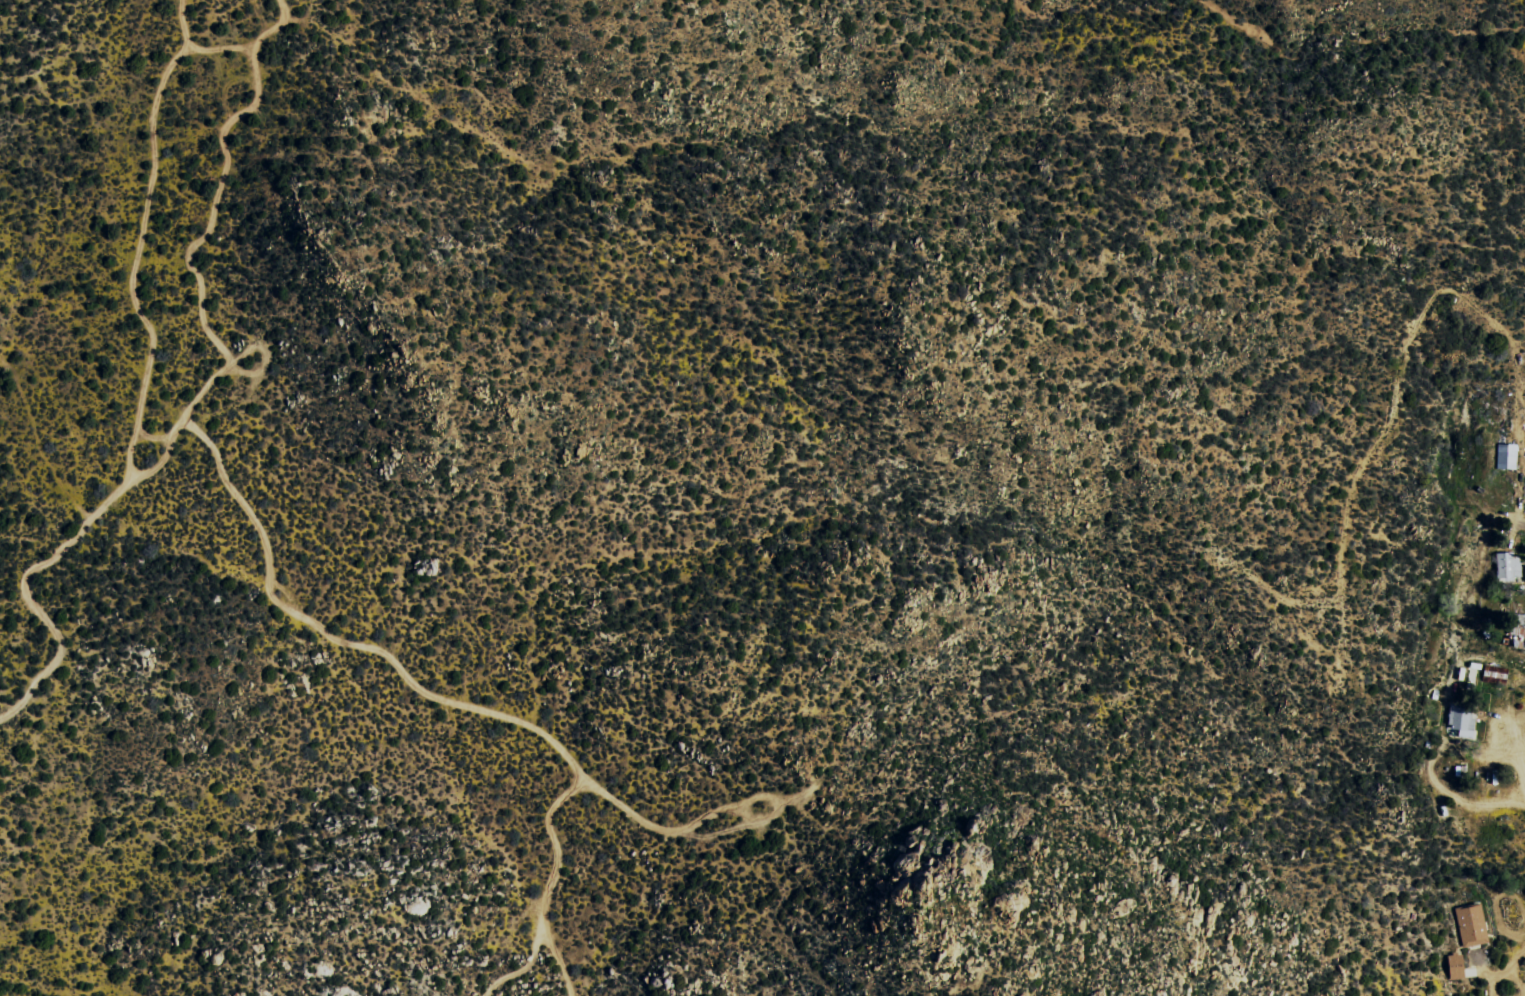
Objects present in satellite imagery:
road: (1415, 58)
building: (1507, 455)
building: (1509, 567)
building: (1463, 720)
road: (1481, 899)
building: (1472, 925)
building: (1457, 965)

